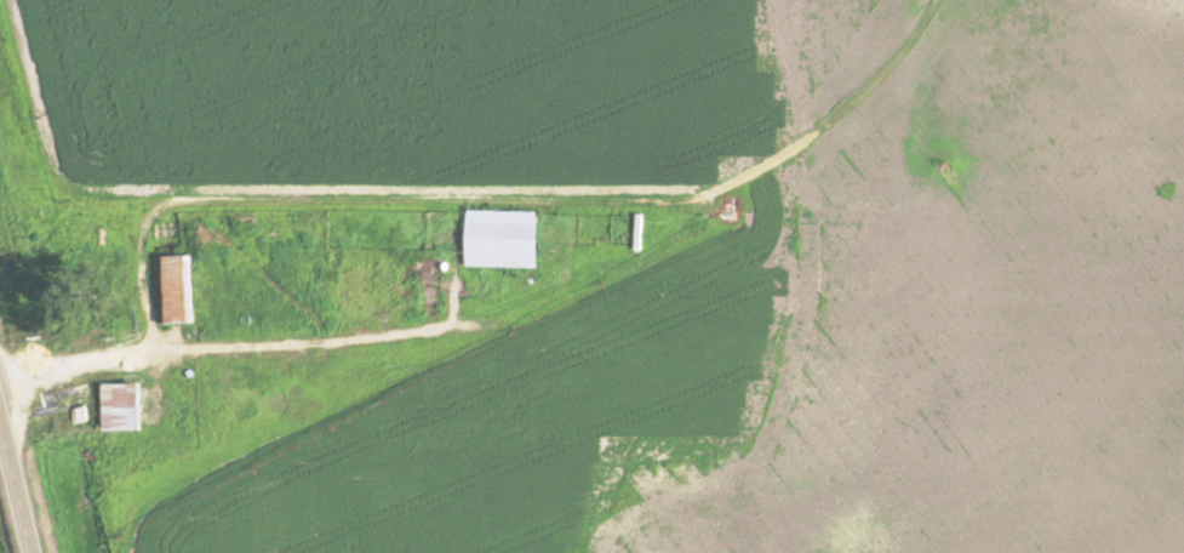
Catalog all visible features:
building: (501, 238)
building: (178, 289)
building: (120, 406)
road: (19, 468)

